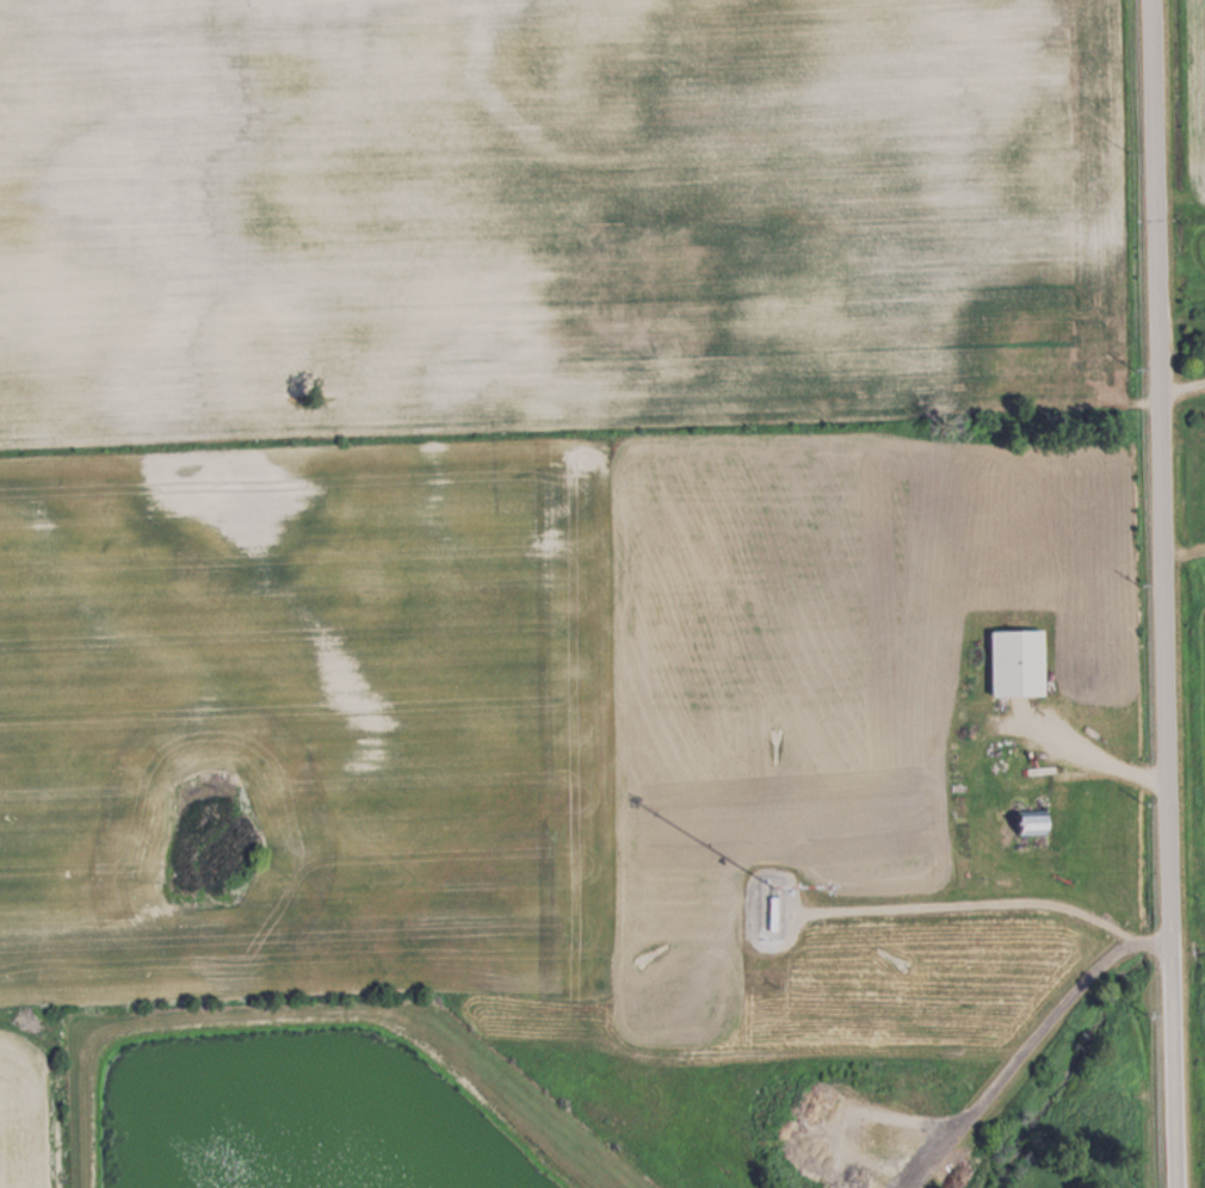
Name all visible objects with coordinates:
road: (1162, 593)
building: (1015, 662)
building: (1031, 821)

